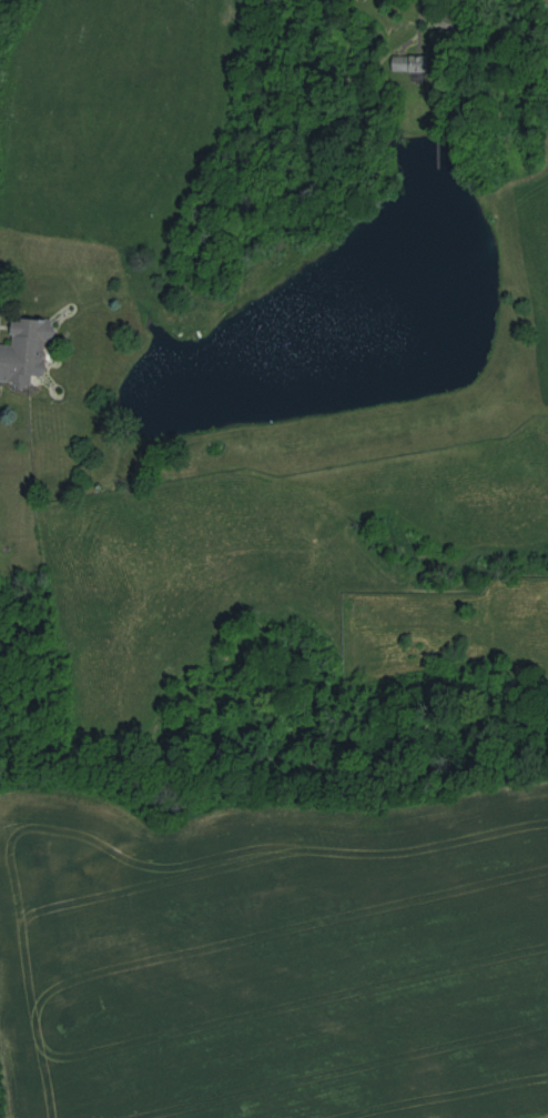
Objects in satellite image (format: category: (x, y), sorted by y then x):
building: (26, 351)

